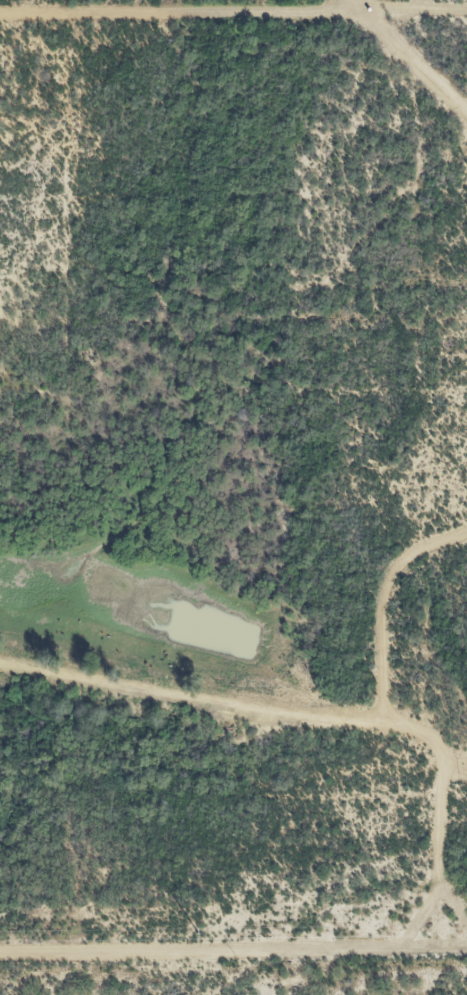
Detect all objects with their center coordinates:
power tower: (199, 934)

